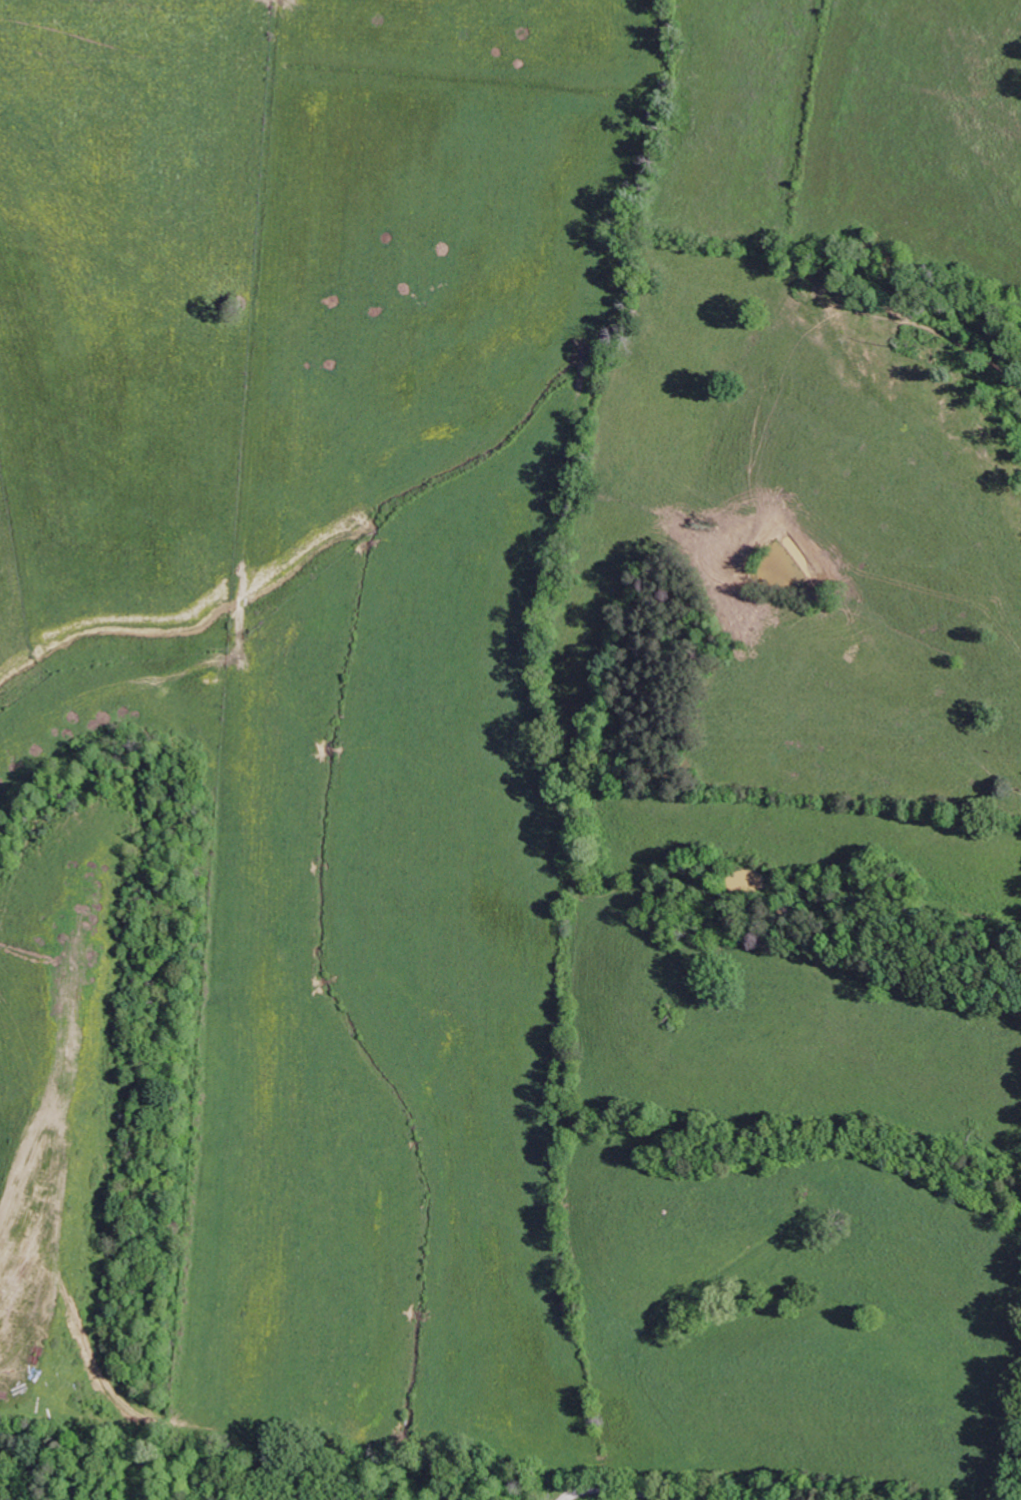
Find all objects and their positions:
road: (632, 1487)

